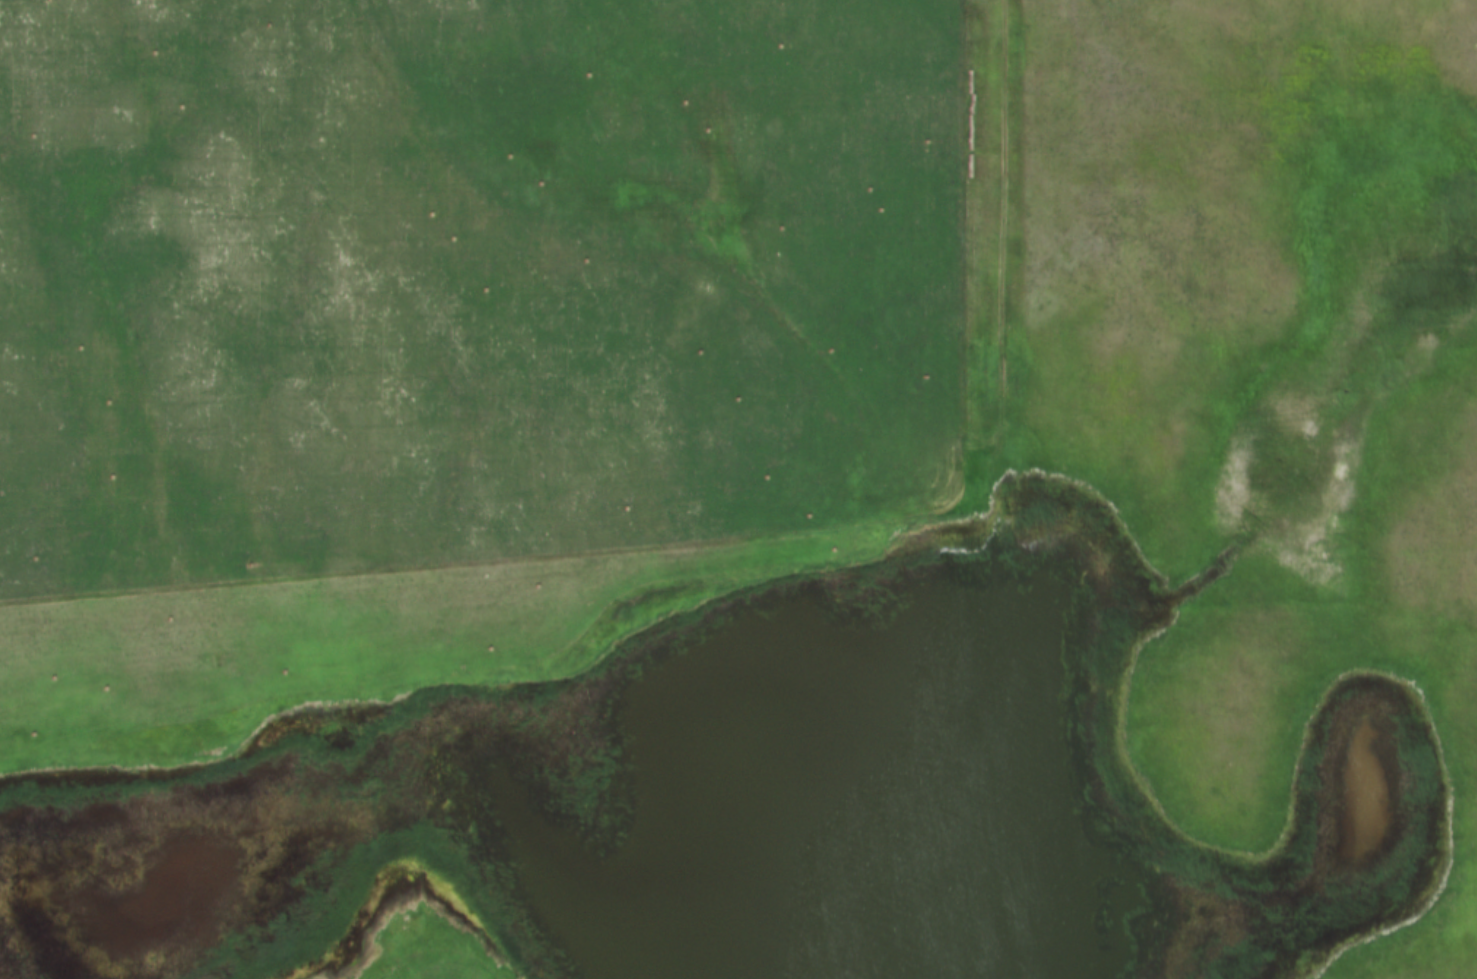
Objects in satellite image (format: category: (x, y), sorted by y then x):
road: (1018, 242)

